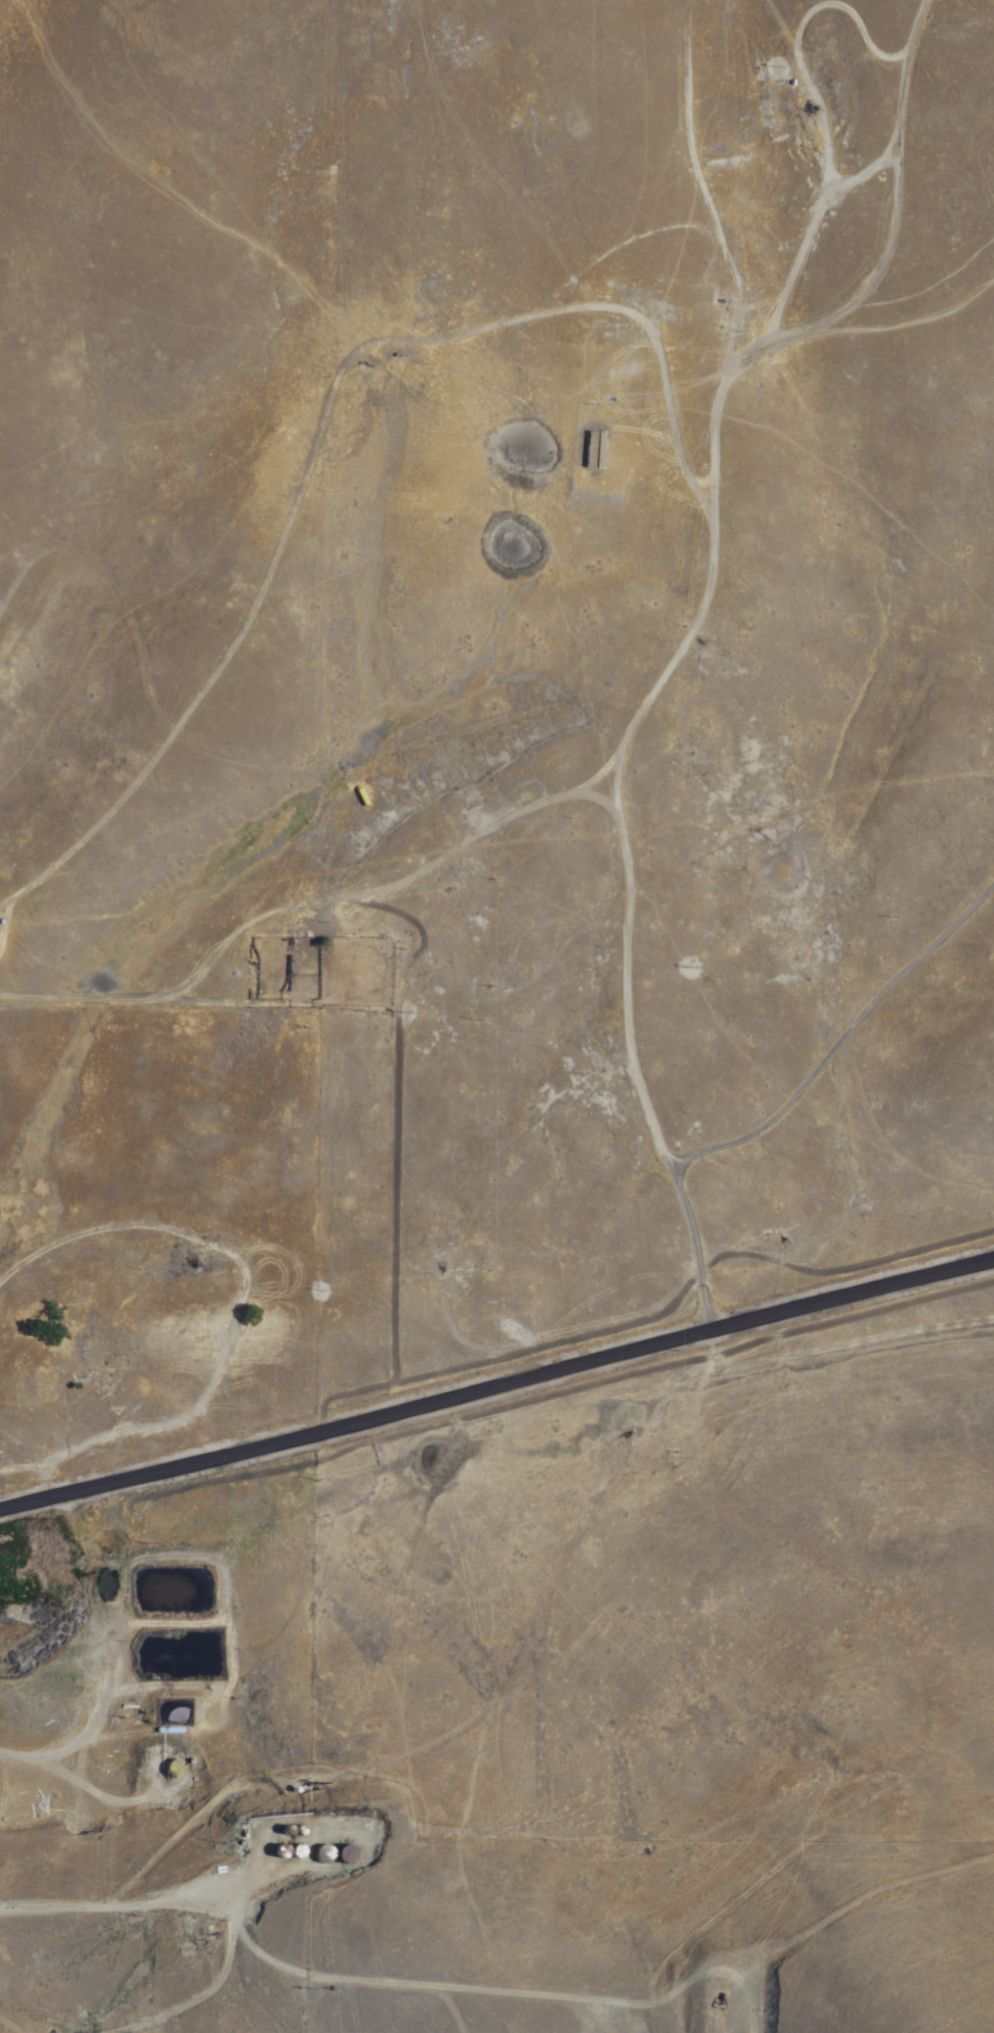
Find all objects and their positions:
road: (810, 95)
road: (839, 194)
road: (674, 669)
road: (495, 826)
road: (497, 1386)
road: (211, 1906)

